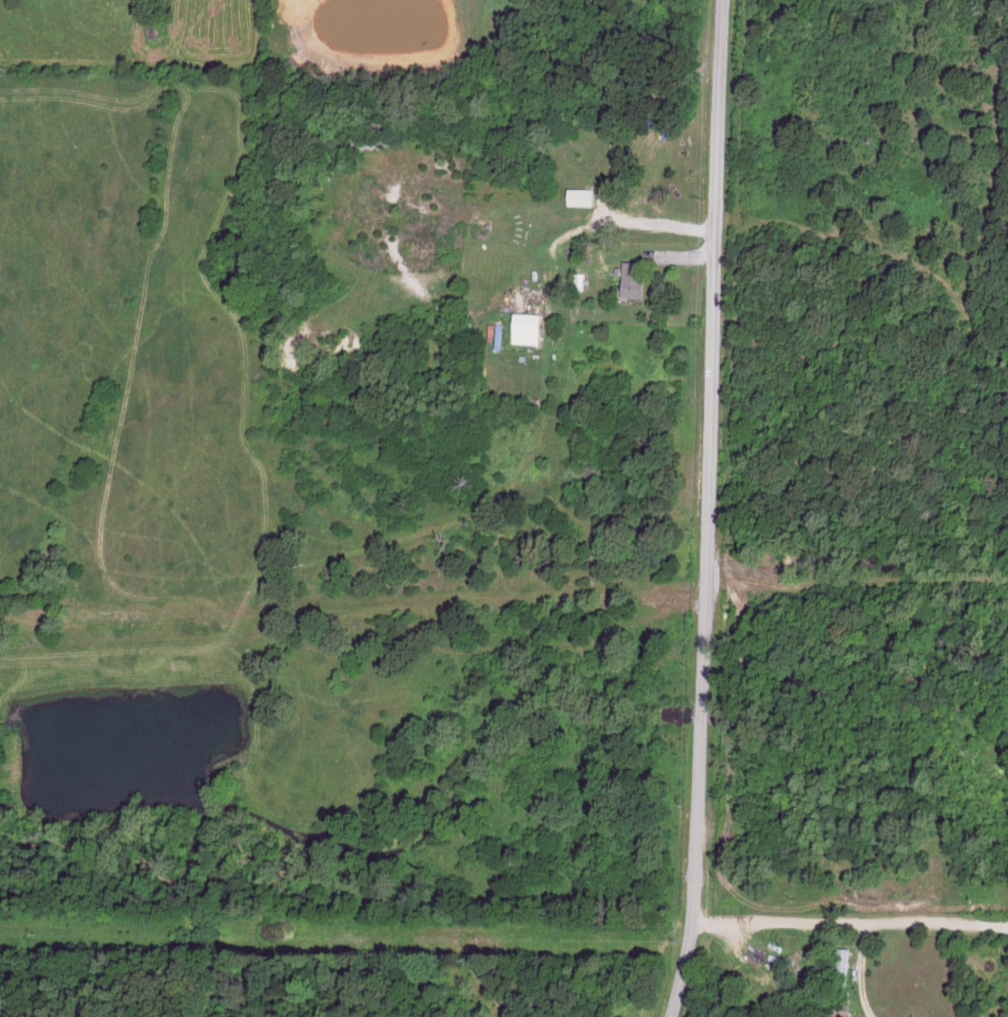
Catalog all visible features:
road: (862, 99)
building: (584, 195)
road: (598, 225)
building: (581, 279)
building: (637, 279)
building: (529, 327)
road: (860, 415)
road: (709, 509)
road: (847, 923)
road: (860, 971)

